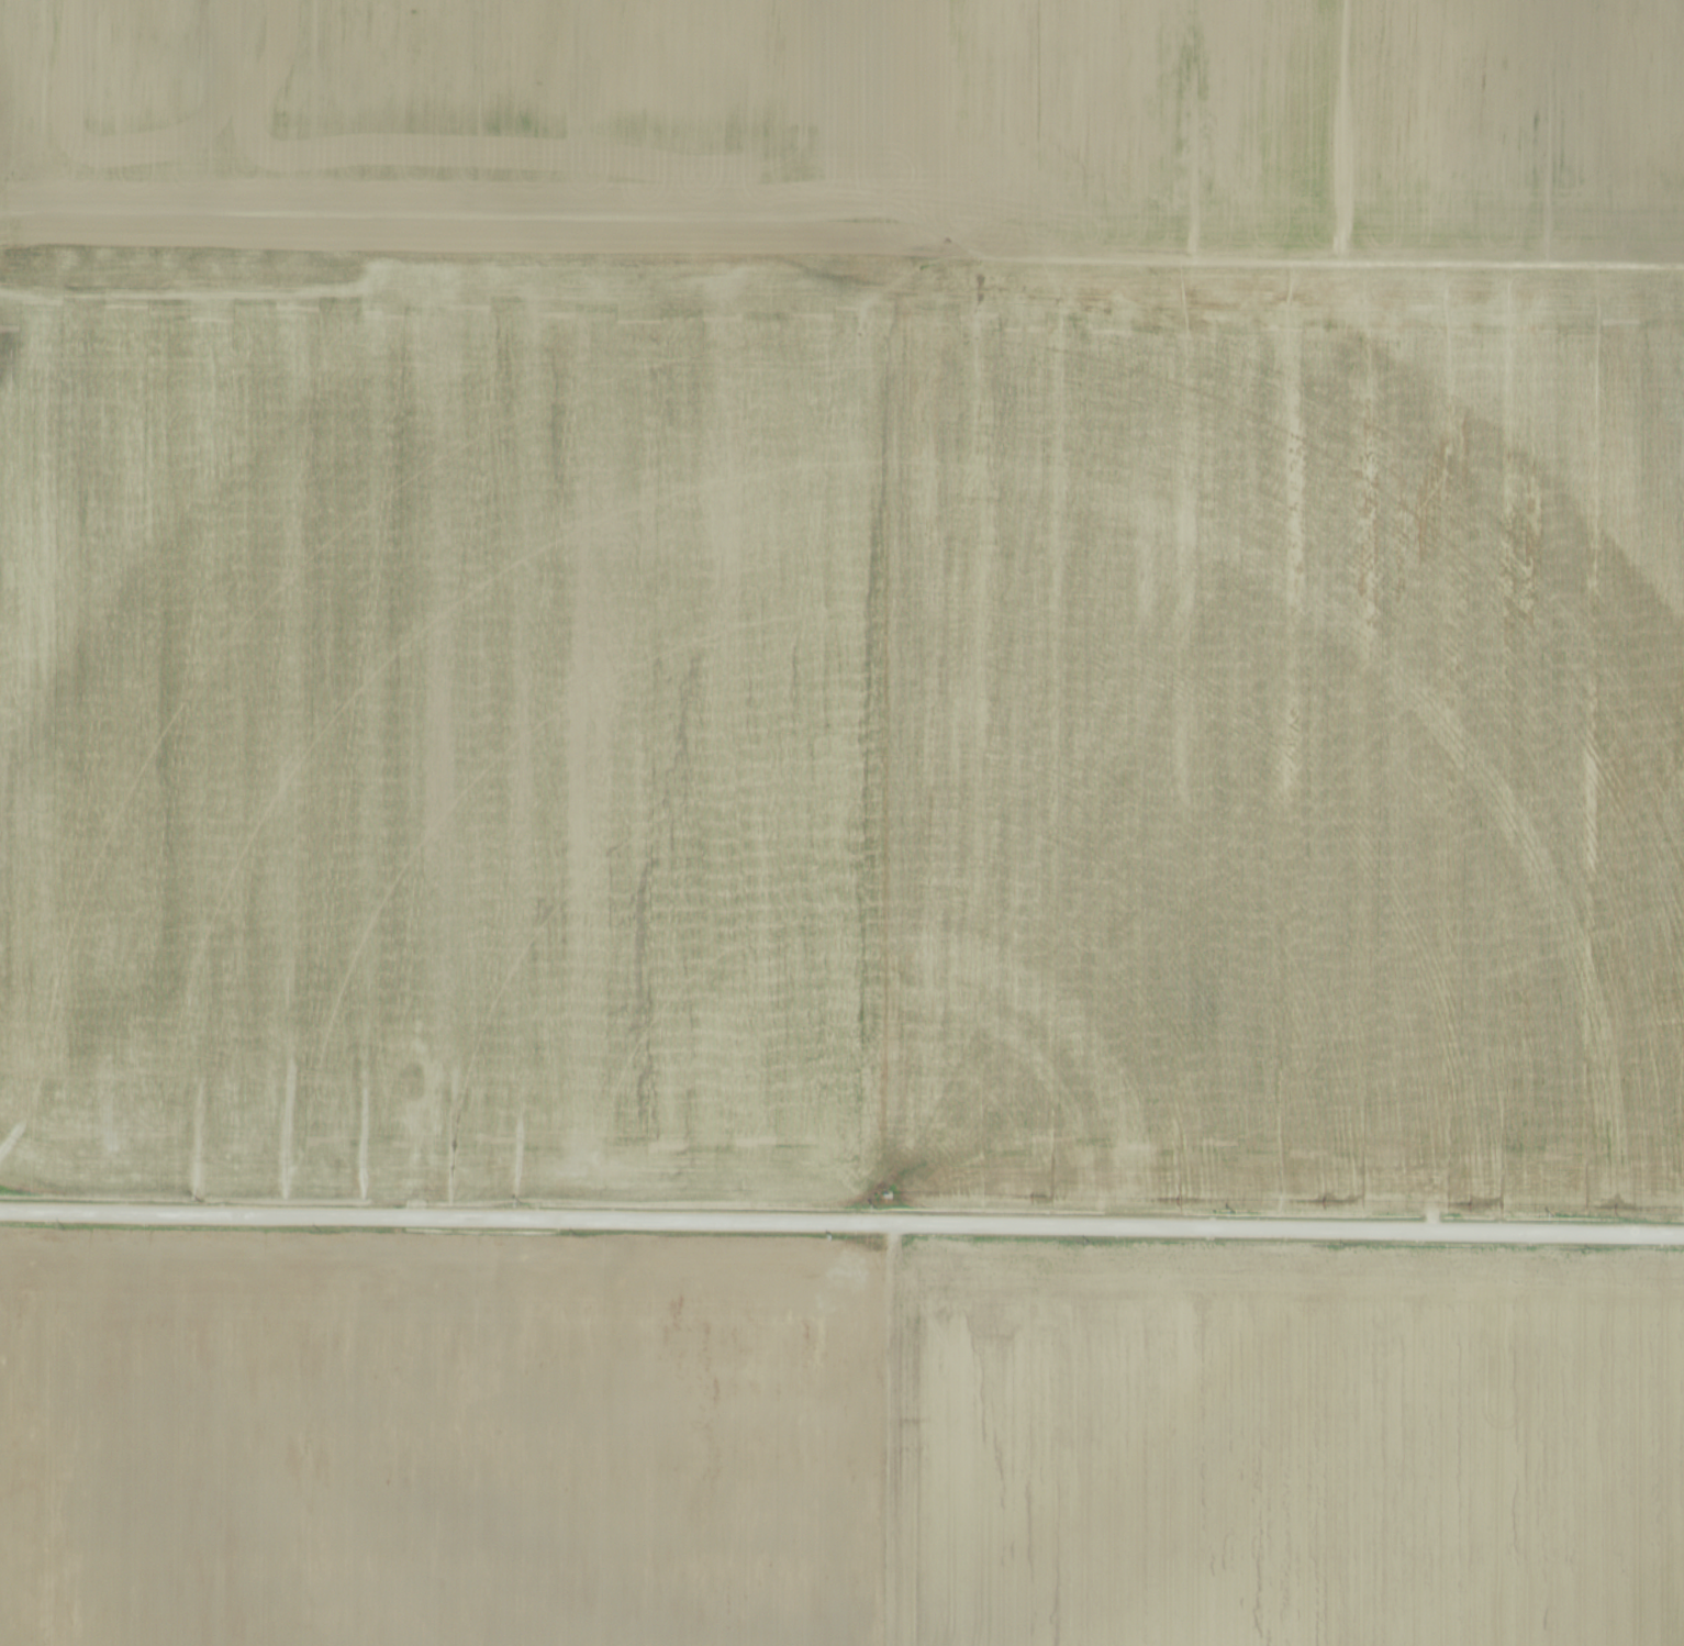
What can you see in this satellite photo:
road: (841, 1222)

